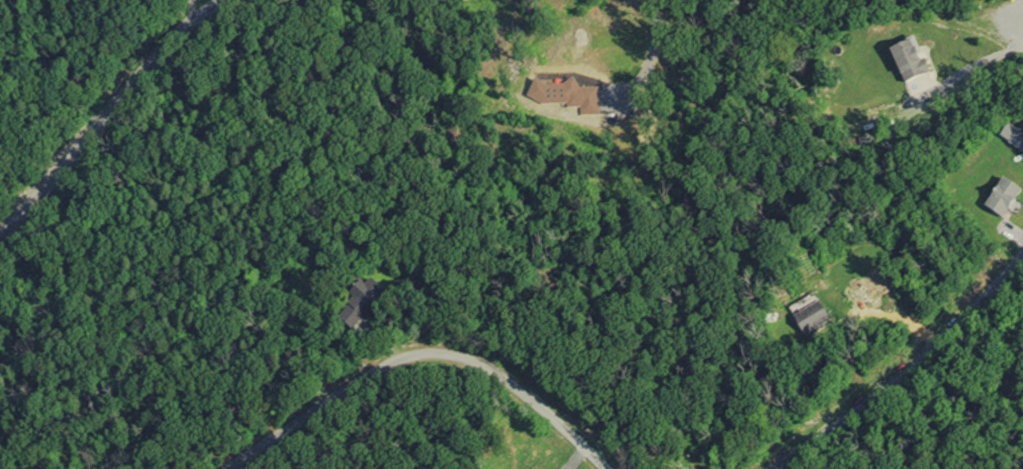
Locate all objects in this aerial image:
road: (1019, 14)
road: (1016, 33)
road: (656, 48)
building: (913, 62)
road: (102, 116)
building: (1015, 137)
building: (1006, 199)
building: (370, 294)
road: (421, 360)
road: (906, 370)

